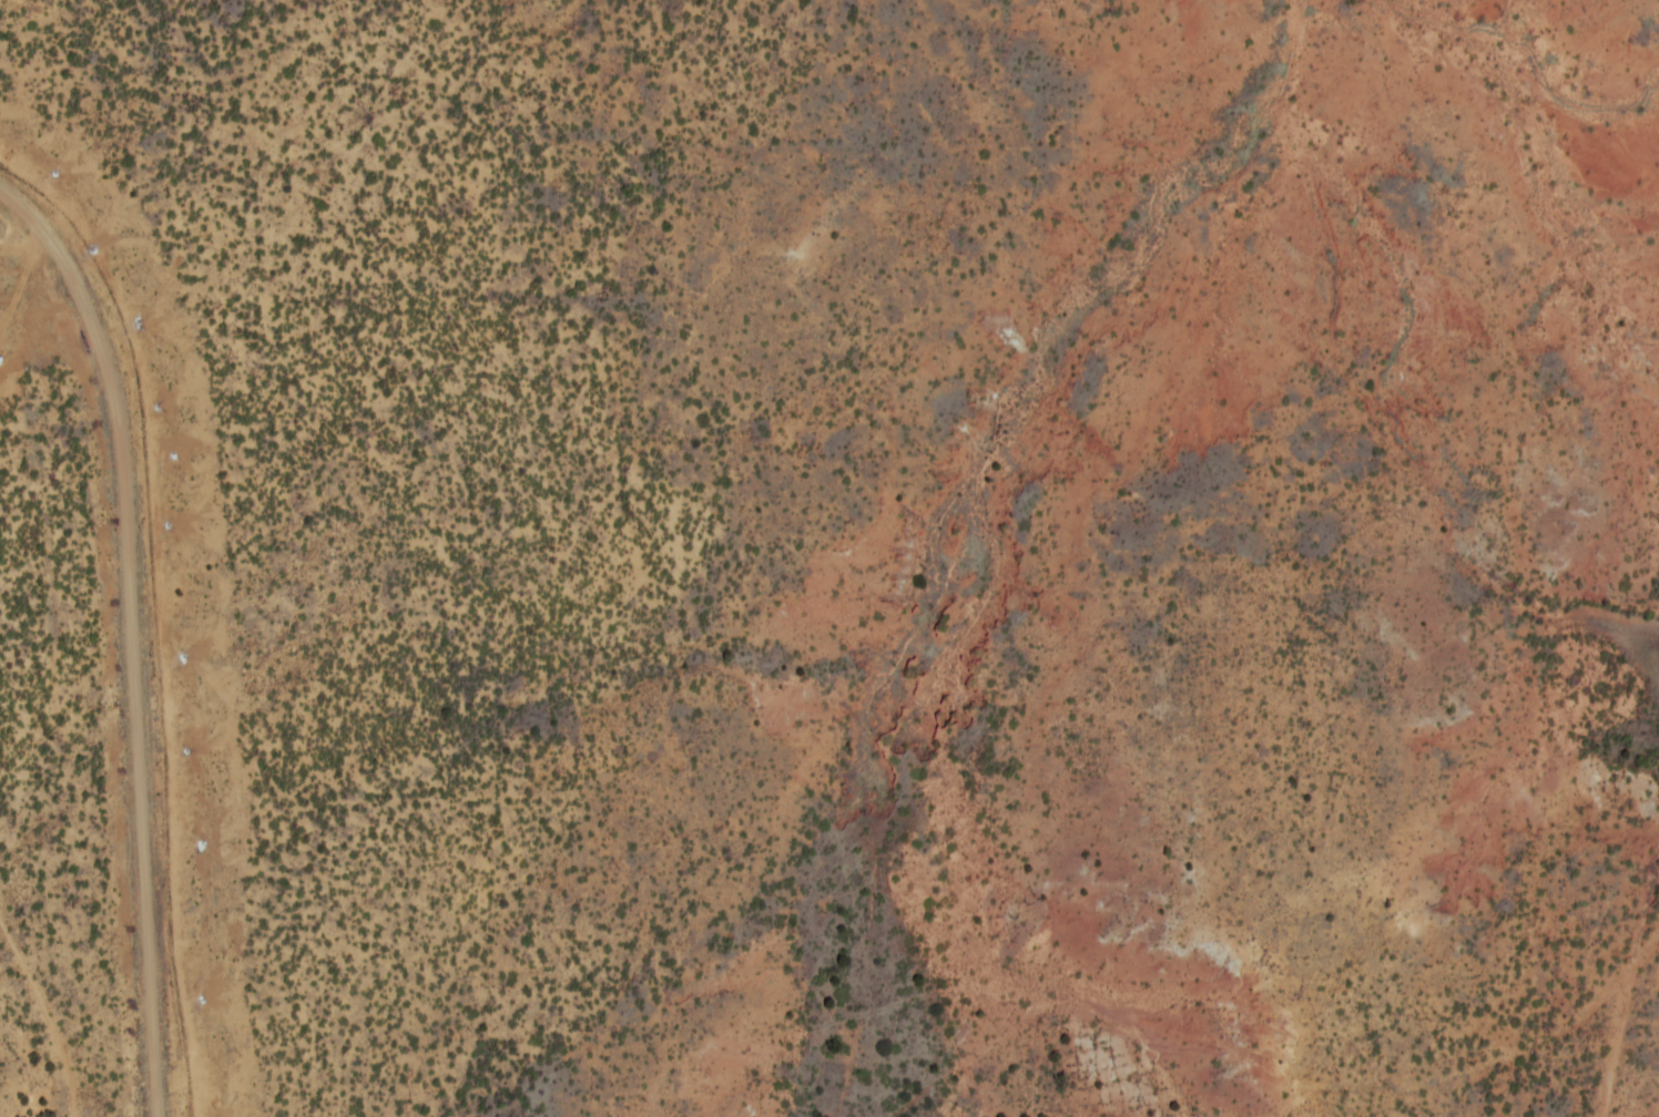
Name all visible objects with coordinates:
road: (132, 636)

